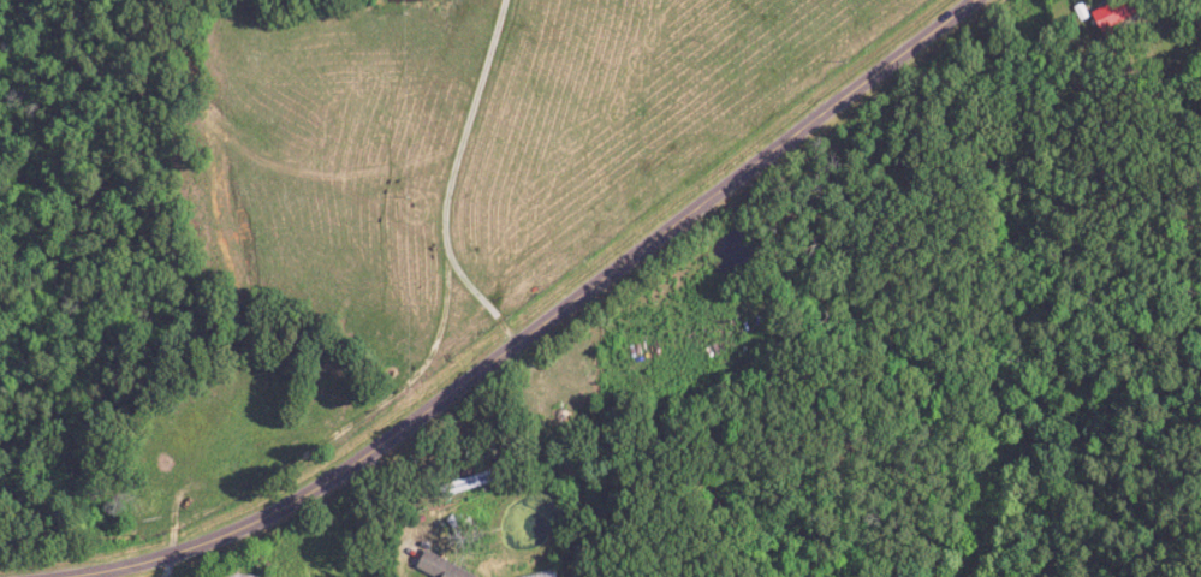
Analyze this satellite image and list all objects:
building: (1107, 14)
road: (546, 321)
building: (445, 567)
building: (549, 575)

